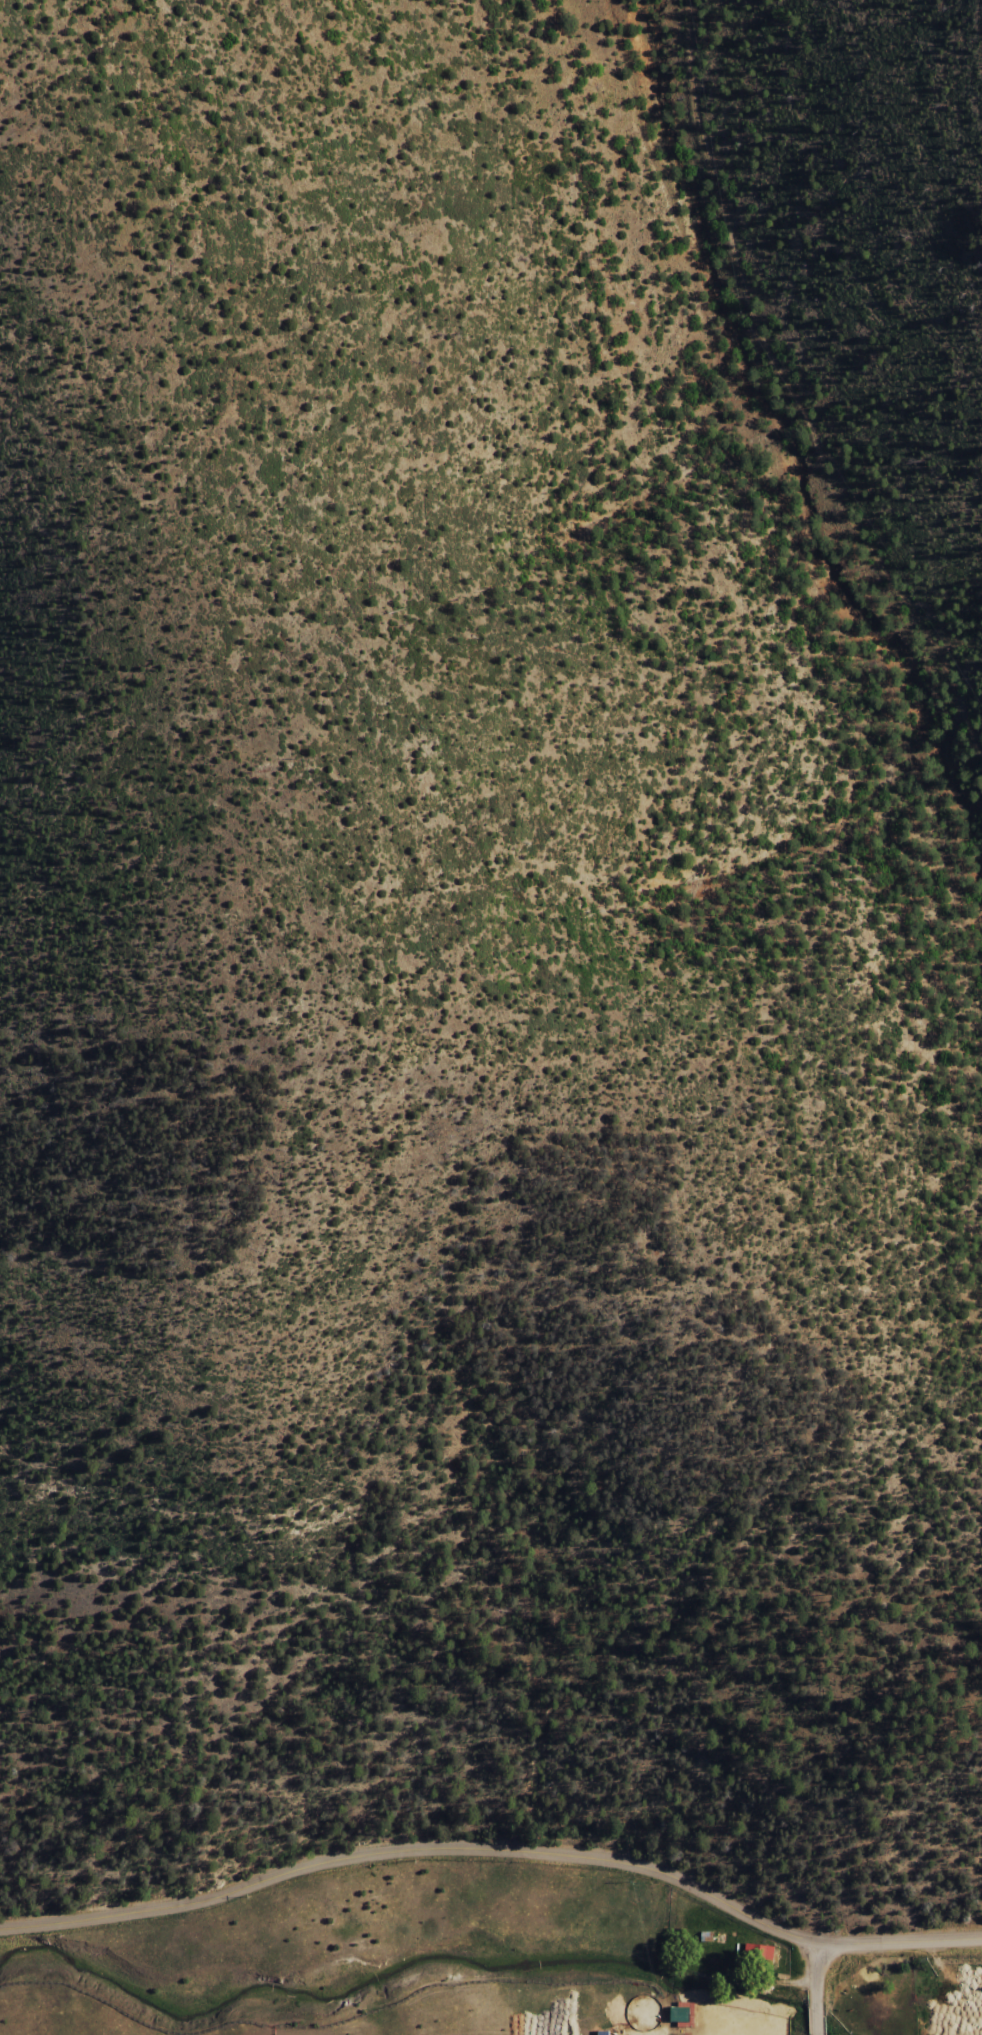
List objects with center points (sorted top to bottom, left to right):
road: (413, 1849)
road: (901, 1940)
building: (760, 1955)
building: (854, 1969)
road: (816, 1973)
park: (618, 2019)
road: (816, 2020)
building: (671, 2021)
building: (605, 2033)

